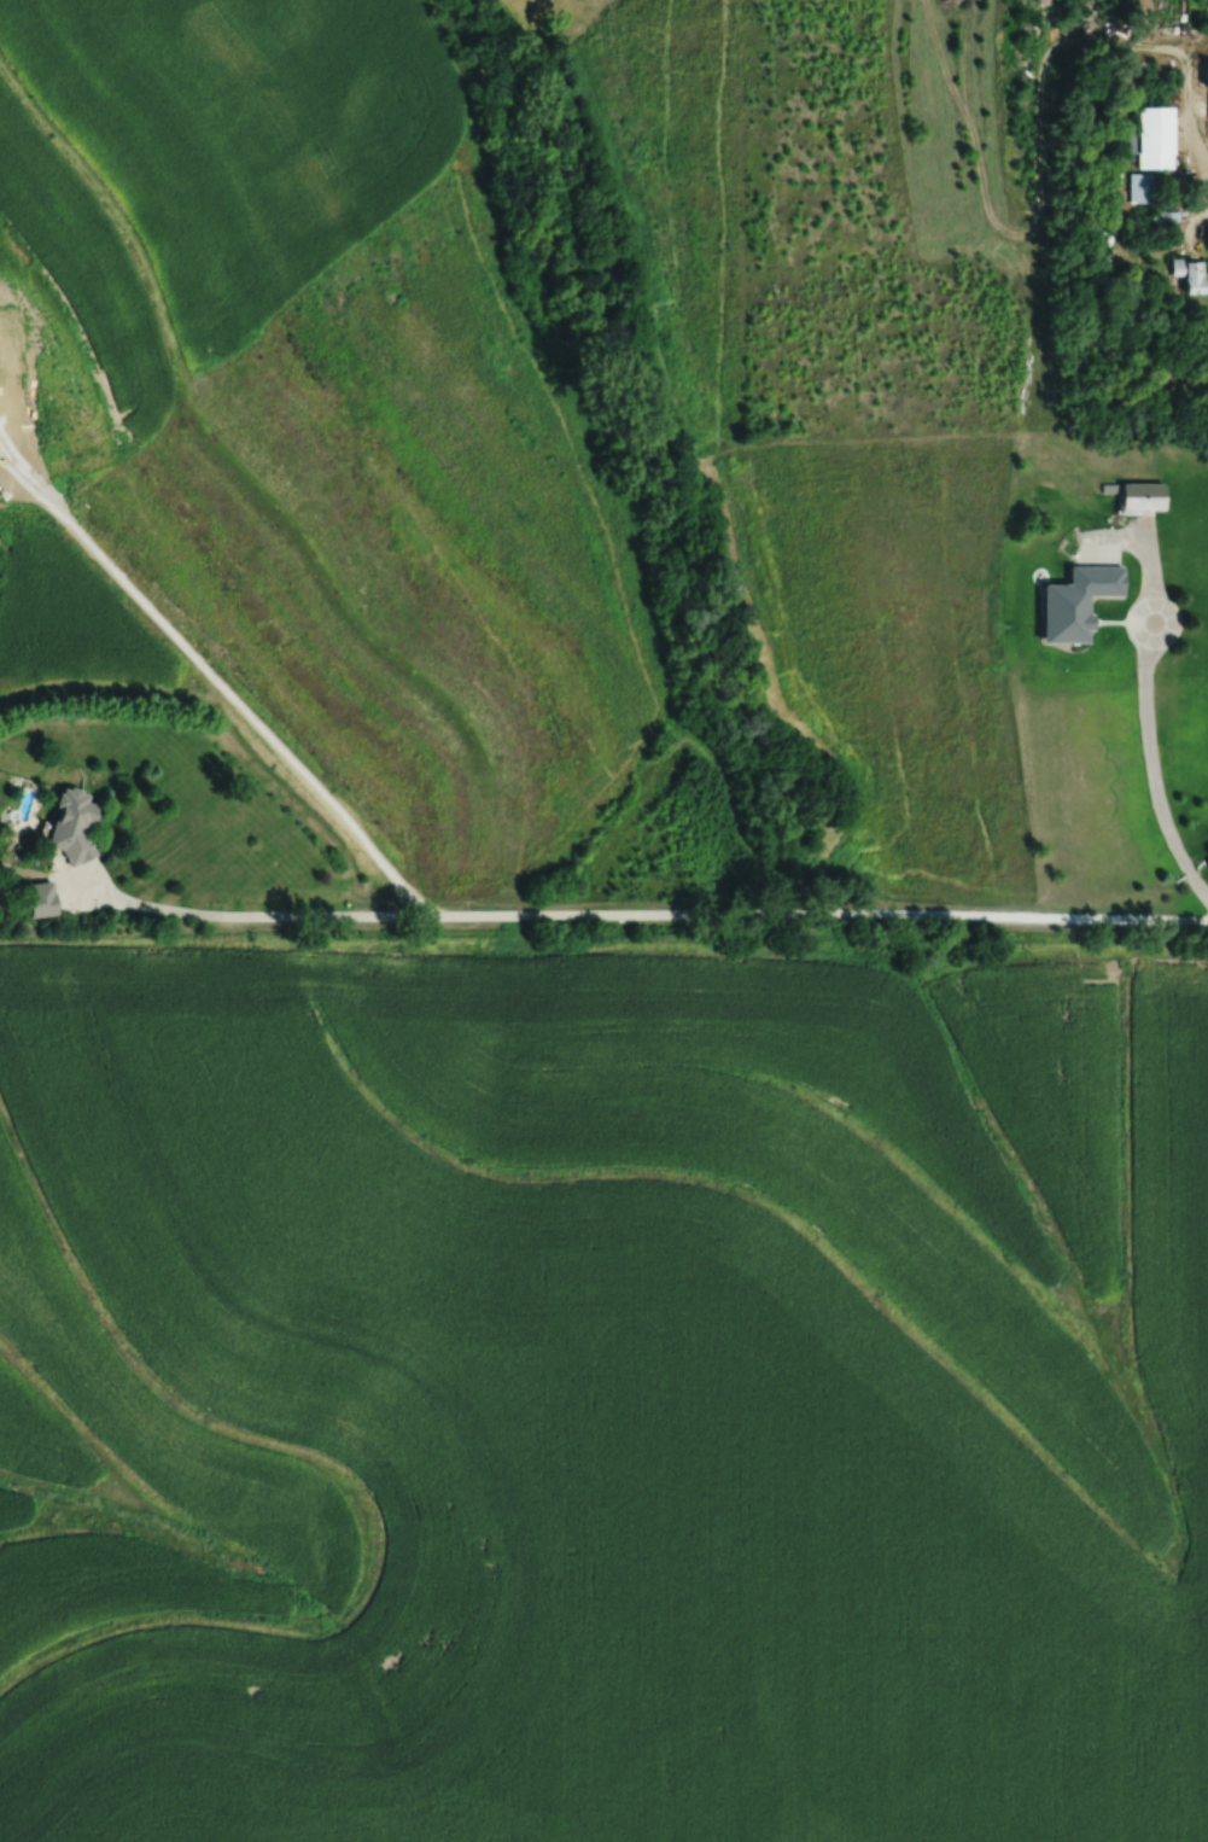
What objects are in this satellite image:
building: (1206, 107)
road: (1190, 121)
building: (1148, 138)
building: (1160, 220)
building: (1184, 275)
building: (1137, 499)
road: (1113, 536)
road: (1096, 552)
road: (1149, 555)
building: (1070, 604)
road: (1154, 640)
road: (241, 706)
road: (1152, 775)
building: (74, 823)
road: (97, 875)
road: (53, 878)
road: (82, 897)
road: (656, 913)

